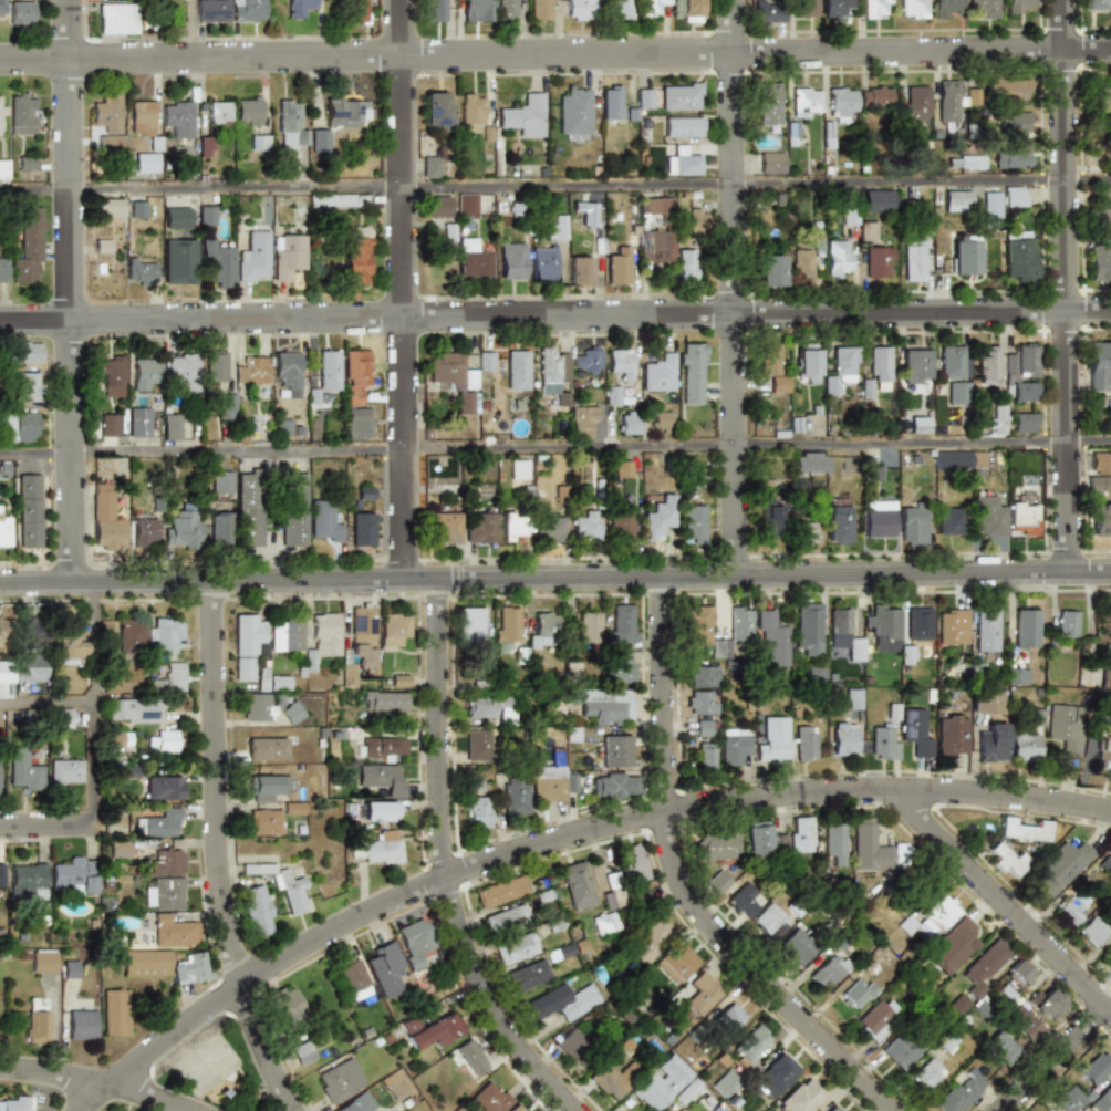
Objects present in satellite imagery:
building: (1093, 4)
building: (1018, 6)
building: (1, 7)
building: (651, 7)
building: (299, 8)
building: (804, 8)
building: (835, 8)
building: (913, 8)
building: (945, 8)
building: (506, 9)
building: (539, 9)
building: (578, 9)
building: (619, 9)
building: (874, 9)
building: (983, 9)
building: (211, 10)
building: (248, 10)
building: (356, 10)
building: (435, 10)
building: (475, 10)
building: (768, 11)
building: (21, 12)
building: (117, 19)
road: (554, 54)
building: (1008, 90)
building: (679, 97)
building: (874, 97)
building: (644, 98)
building: (1101, 98)
building: (954, 100)
building: (804, 102)
building: (611, 103)
building: (840, 103)
building: (767, 104)
building: (914, 105)
building: (435, 110)
building: (470, 110)
building: (248, 111)
building: (216, 112)
building: (344, 112)
building: (574, 112)
building: (21, 114)
building: (525, 116)
building: (141, 117)
building: (176, 118)
building: (0, 122)
building: (106, 122)
building: (1014, 122)
building: (287, 126)
building: (682, 127)
building: (316, 142)
building: (257, 143)
building: (203, 145)
building: (1010, 157)
building: (921, 160)
building: (25, 163)
building: (682, 163)
building: (771, 163)
building: (964, 163)
building: (430, 167)
building: (3, 169)
road: (554, 185)
building: (1104, 195)
building: (1013, 196)
building: (332, 200)
building: (878, 201)
building: (956, 201)
building: (466, 205)
building: (436, 206)
building: (656, 206)
building: (990, 207)
building: (108, 208)
building: (136, 209)
building: (585, 212)
building: (205, 216)
building: (849, 216)
building: (175, 218)
building: (1101, 218)
building: (695, 219)
building: (555, 228)
building: (866, 231)
building: (655, 246)
building: (28, 247)
building: (287, 256)
building: (1018, 256)
building: (252, 258)
building: (355, 258)
building: (965, 258)
building: (837, 259)
building: (474, 260)
building: (178, 261)
building: (511, 261)
building: (876, 261)
building: (1099, 261)
building: (217, 262)
building: (800, 263)
building: (913, 263)
building: (543, 264)
building: (685, 266)
building: (616, 267)
building: (2, 270)
building: (770, 270)
building: (139, 271)
building: (579, 271)
road: (1066, 285)
road: (735, 288)
road: (403, 289)
road: (70, 291)
road: (554, 315)
building: (22, 353)
building: (588, 360)
building: (769, 360)
building: (486, 361)
building: (807, 362)
building: (951, 362)
building: (621, 363)
building: (1021, 363)
building: (880, 364)
building: (916, 365)
building: (987, 365)
building: (215, 366)
building: (1099, 366)
building: (517, 370)
building: (551, 370)
building: (841, 370)
building: (252, 371)
building: (328, 371)
building: (451, 371)
building: (145, 373)
building: (181, 373)
building: (287, 373)
building: (693, 373)
building: (660, 374)
building: (355, 375)
building: (112, 376)
building: (779, 384)
building: (25, 387)
building: (1025, 392)
building: (958, 393)
building: (612, 395)
building: (312, 396)
building: (467, 403)
building: (226, 406)
building: (997, 418)
building: (662, 419)
building: (582, 420)
building: (139, 422)
building: (629, 423)
building: (1024, 423)
building: (357, 424)
building: (107, 425)
building: (920, 425)
building: (21, 427)
building: (170, 427)
building: (282, 427)
road: (554, 447)
building: (956, 460)
building: (1100, 463)
building: (808, 464)
building: (519, 469)
building: (622, 469)
building: (872, 474)
building: (221, 482)
building: (364, 494)
building: (294, 509)
building: (249, 510)
building: (29, 511)
building: (987, 517)
building: (105, 518)
building: (658, 518)
building: (770, 518)
building: (1021, 519)
building: (1101, 519)
building: (880, 520)
building: (323, 521)
building: (948, 521)
building: (693, 522)
building: (839, 525)
building: (912, 525)
building: (585, 526)
building: (184, 527)
building: (512, 527)
building: (621, 527)
building: (444, 528)
building: (362, 529)
building: (481, 529)
building: (549, 529)
building: (218, 530)
building: (3, 531)
building: (144, 532)
building: (804, 532)
road: (554, 578)
building: (622, 623)
building: (918, 624)
building: (1067, 624)
building: (469, 625)
building: (508, 625)
building: (740, 625)
building: (697, 626)
building: (952, 626)
building: (883, 627)
building: (589, 629)
building: (808, 629)
building: (1026, 629)
building: (32, 630)
building: (394, 630)
building: (986, 630)
building: (2, 631)
building: (543, 631)
building: (165, 634)
building: (324, 634)
building: (843, 634)
building: (131, 635)
building: (249, 636)
building: (287, 636)
building: (362, 637)
building: (772, 638)
building: (68, 641)
building: (720, 648)
building: (907, 654)
building: (30, 667)
building: (245, 668)
building: (619, 668)
building: (4, 672)
building: (702, 676)
building: (1018, 676)
building: (169, 678)
building: (1105, 679)
building: (401, 681)
building: (279, 683)
building: (853, 699)
building: (385, 700)
road: (48, 702)
building: (986, 702)
road: (95, 704)
building: (700, 704)
building: (604, 705)
building: (258, 708)
building: (490, 708)
building: (133, 710)
building: (292, 713)
building: (1037, 717)
building: (61, 718)
building: (1066, 726)
building: (703, 728)
building: (915, 731)
building: (951, 737)
building: (116, 739)
building: (773, 739)
building: (844, 739)
building: (160, 741)
building: (806, 743)
building: (991, 743)
building: (883, 744)
building: (1104, 744)
building: (384, 746)
building: (478, 746)
building: (734, 746)
building: (1025, 747)
building: (266, 749)
building: (615, 751)
building: (704, 756)
building: (21, 770)
building: (64, 771)
building: (383, 778)
building: (550, 779)
building: (570, 782)
building: (613, 786)
building: (266, 787)
building: (160, 788)
building: (515, 798)
building: (292, 808)
building: (378, 810)
building: (477, 811)
building: (263, 822)
road: (46, 824)
building: (157, 824)
building: (1022, 830)
building: (802, 834)
road: (560, 838)
building: (759, 839)
building: (834, 842)
building: (869, 845)
building: (717, 847)
building: (382, 848)
building: (117, 849)
road: (217, 853)
building: (1006, 860)
building: (166, 862)
road: (443, 864)
building: (632, 864)
building: (1105, 864)
building: (1061, 866)
building: (258, 869)
building: (73, 874)
building: (1, 875)
building: (28, 880)
building: (717, 882)
road: (682, 884)
building: (575, 885)
building: (290, 891)
building: (500, 892)
building: (164, 894)
building: (744, 901)
road: (1003, 901)
building: (1073, 906)
building: (256, 910)
building: (933, 917)
building: (768, 918)
building: (506, 920)
building: (604, 923)
building: (1091, 931)
building: (174, 932)
building: (648, 939)
building: (413, 942)
building: (952, 946)
building: (797, 947)
building: (516, 948)
building: (561, 952)
building: (1109, 952)
building: (44, 961)
building: (145, 964)
building: (675, 964)
building: (985, 964)
building: (71, 968)
building: (190, 968)
building: (385, 968)
building: (828, 970)
building: (1018, 973)
building: (527, 975)
building: (354, 982)
building: (856, 993)
building: (702, 994)
building: (563, 1001)
building: (1048, 1004)
building: (958, 1005)
building: (287, 1006)
building: (115, 1011)
building: (727, 1019)
building: (875, 1020)
building: (37, 1022)
building: (82, 1024)
building: (1024, 1024)
building: (432, 1030)
building: (749, 1043)
building: (574, 1045)
building: (1001, 1047)
building: (903, 1048)
building: (302, 1052)
building: (470, 1057)
road: (1056, 1059)
park: (204, 1060)
building: (1096, 1069)
park: (217, 1070)
building: (927, 1073)
building: (610, 1076)
building: (773, 1076)
building: (340, 1080)
road: (95, 1082)
building: (662, 1082)
building: (396, 1083)
building: (723, 1083)
building: (687, 1091)
building: (961, 1092)
building: (798, 1097)
building: (489, 1098)
building: (1067, 1099)
building: (1102, 1100)
building: (15, 1103)
building: (357, 1103)
building: (513, 1108)
building: (831, 1109)
building: (115, 1110)
building: (678, 1110)

